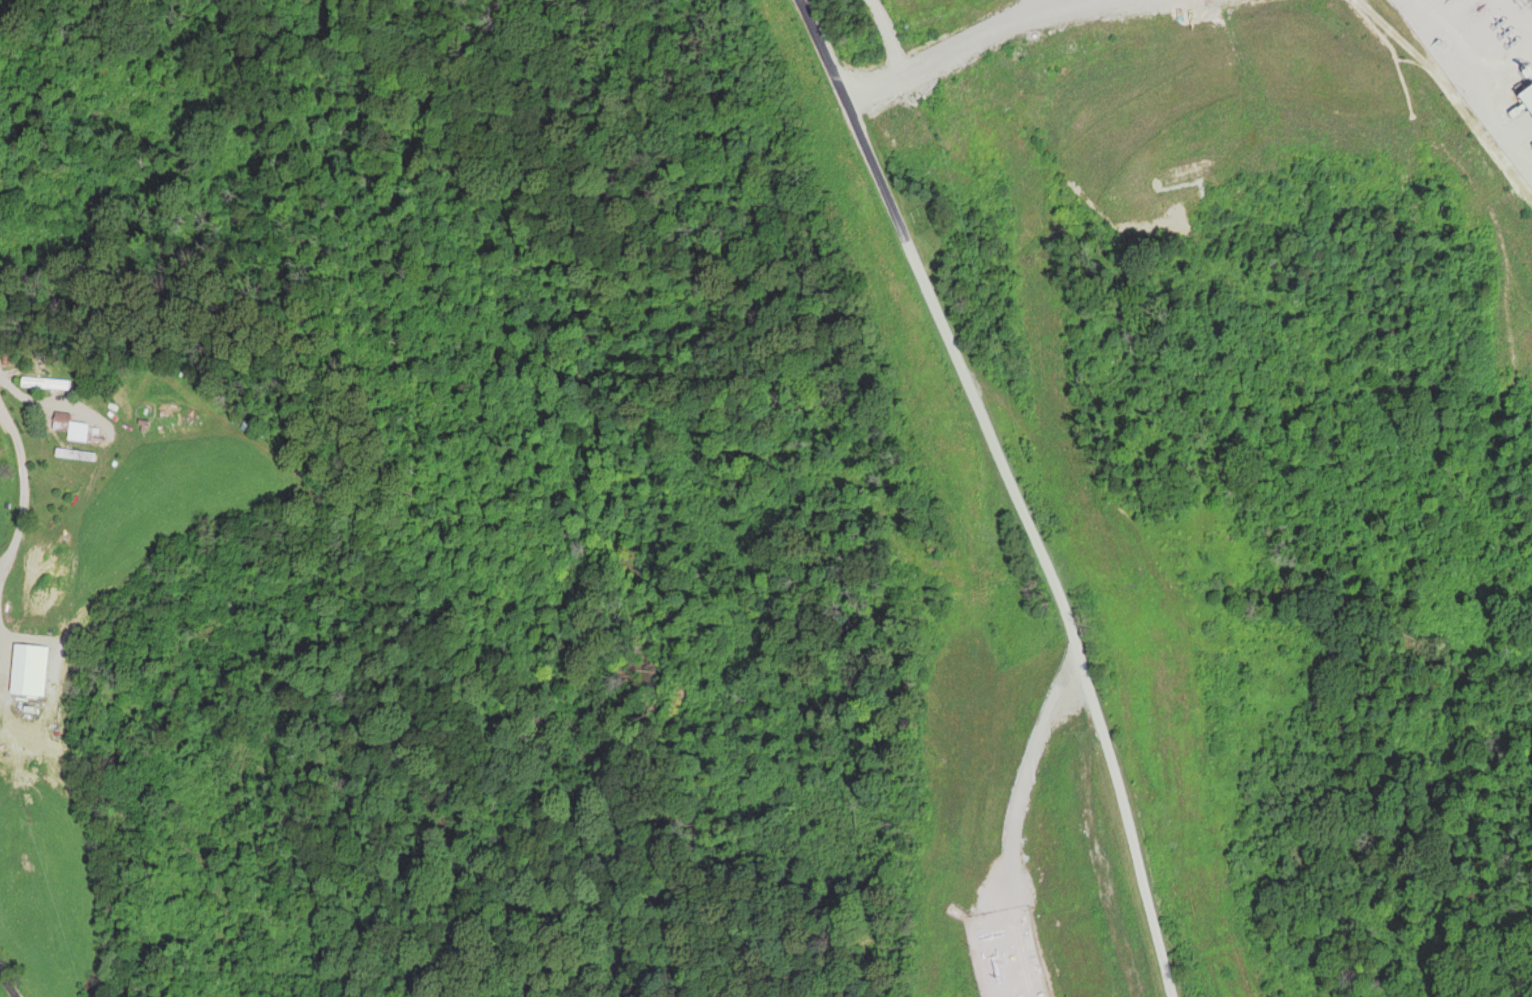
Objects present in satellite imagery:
road: (1058, 3)
road: (883, 35)
road: (985, 36)
building: (9, 360)
building: (44, 384)
building: (68, 428)
road: (1013, 488)
road: (7, 985)

